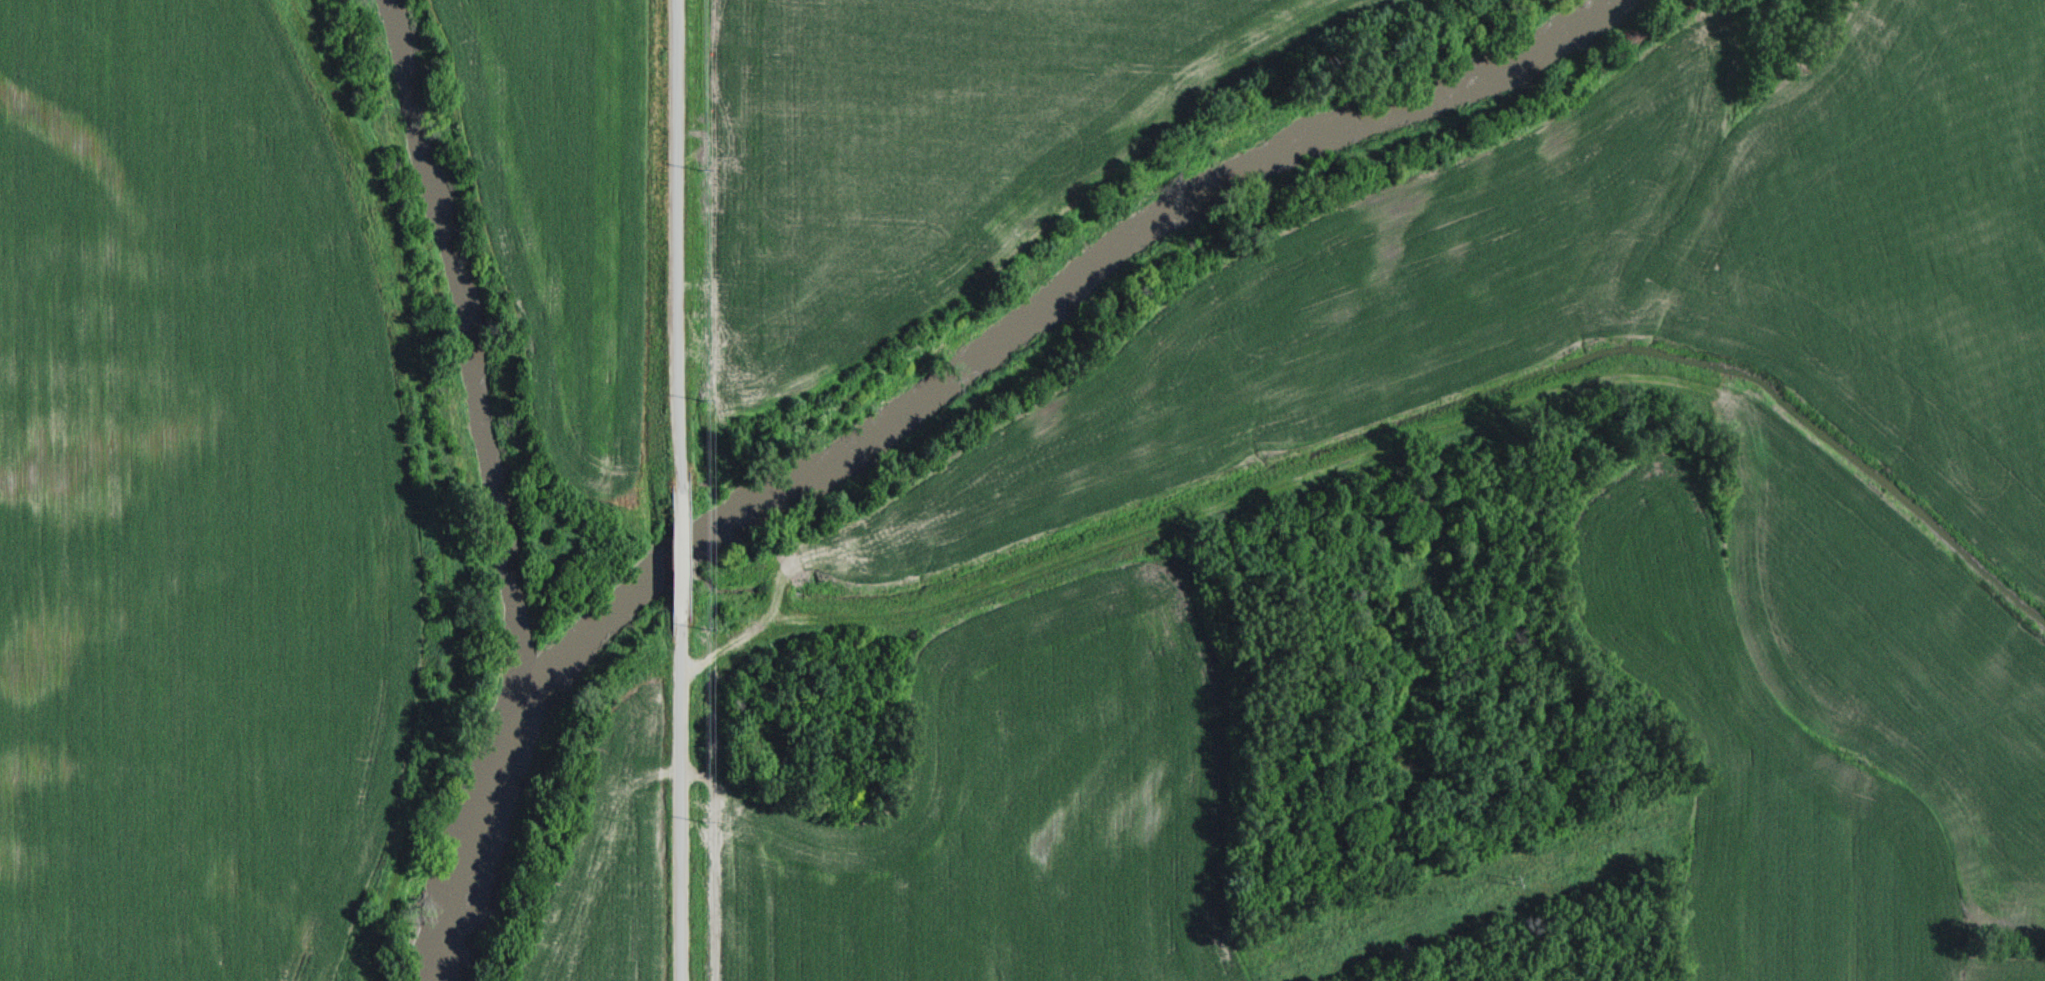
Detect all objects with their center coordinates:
road: (677, 243)
river: (476, 354)
river: (928, 390)
road: (678, 552)
road: (680, 799)

